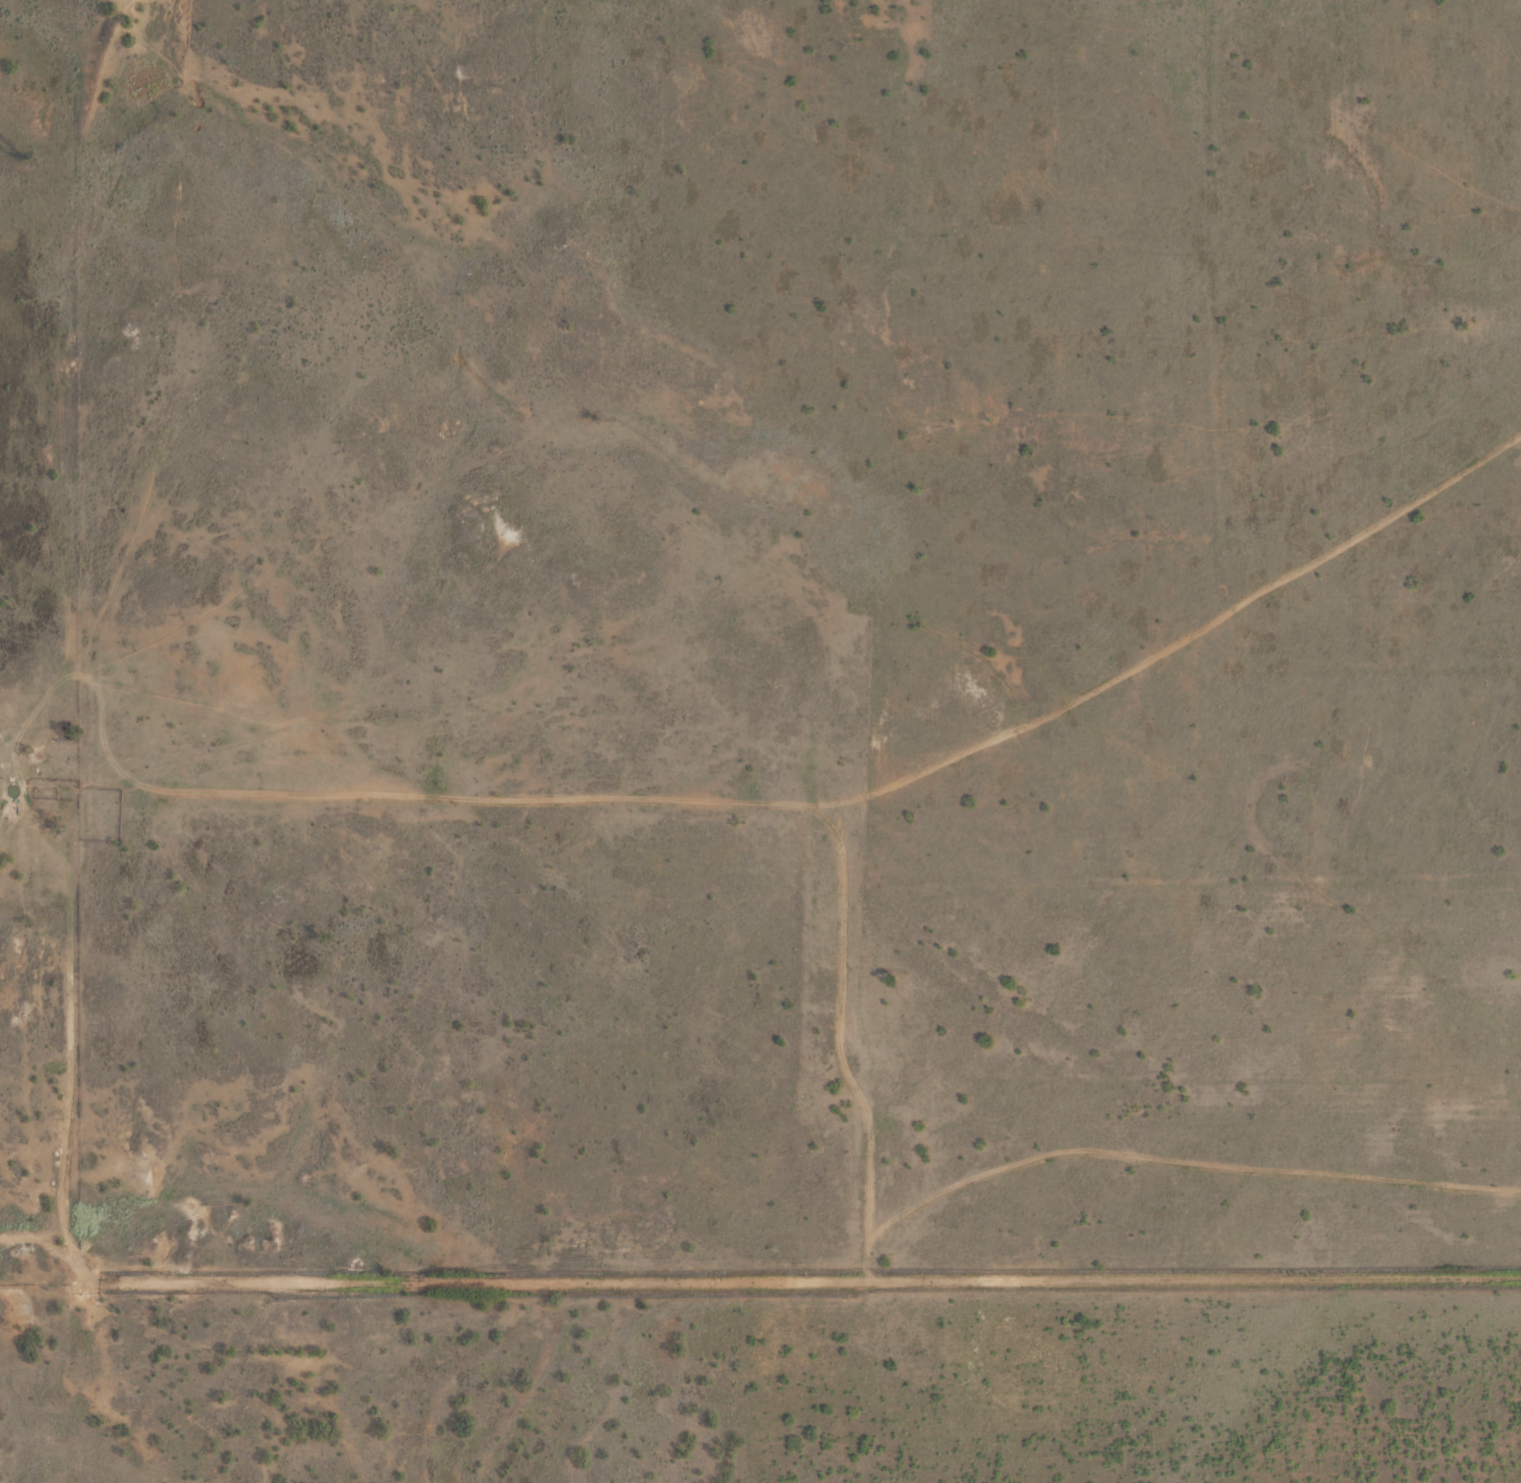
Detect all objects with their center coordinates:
road: (899, 1279)
road: (881, 1382)

